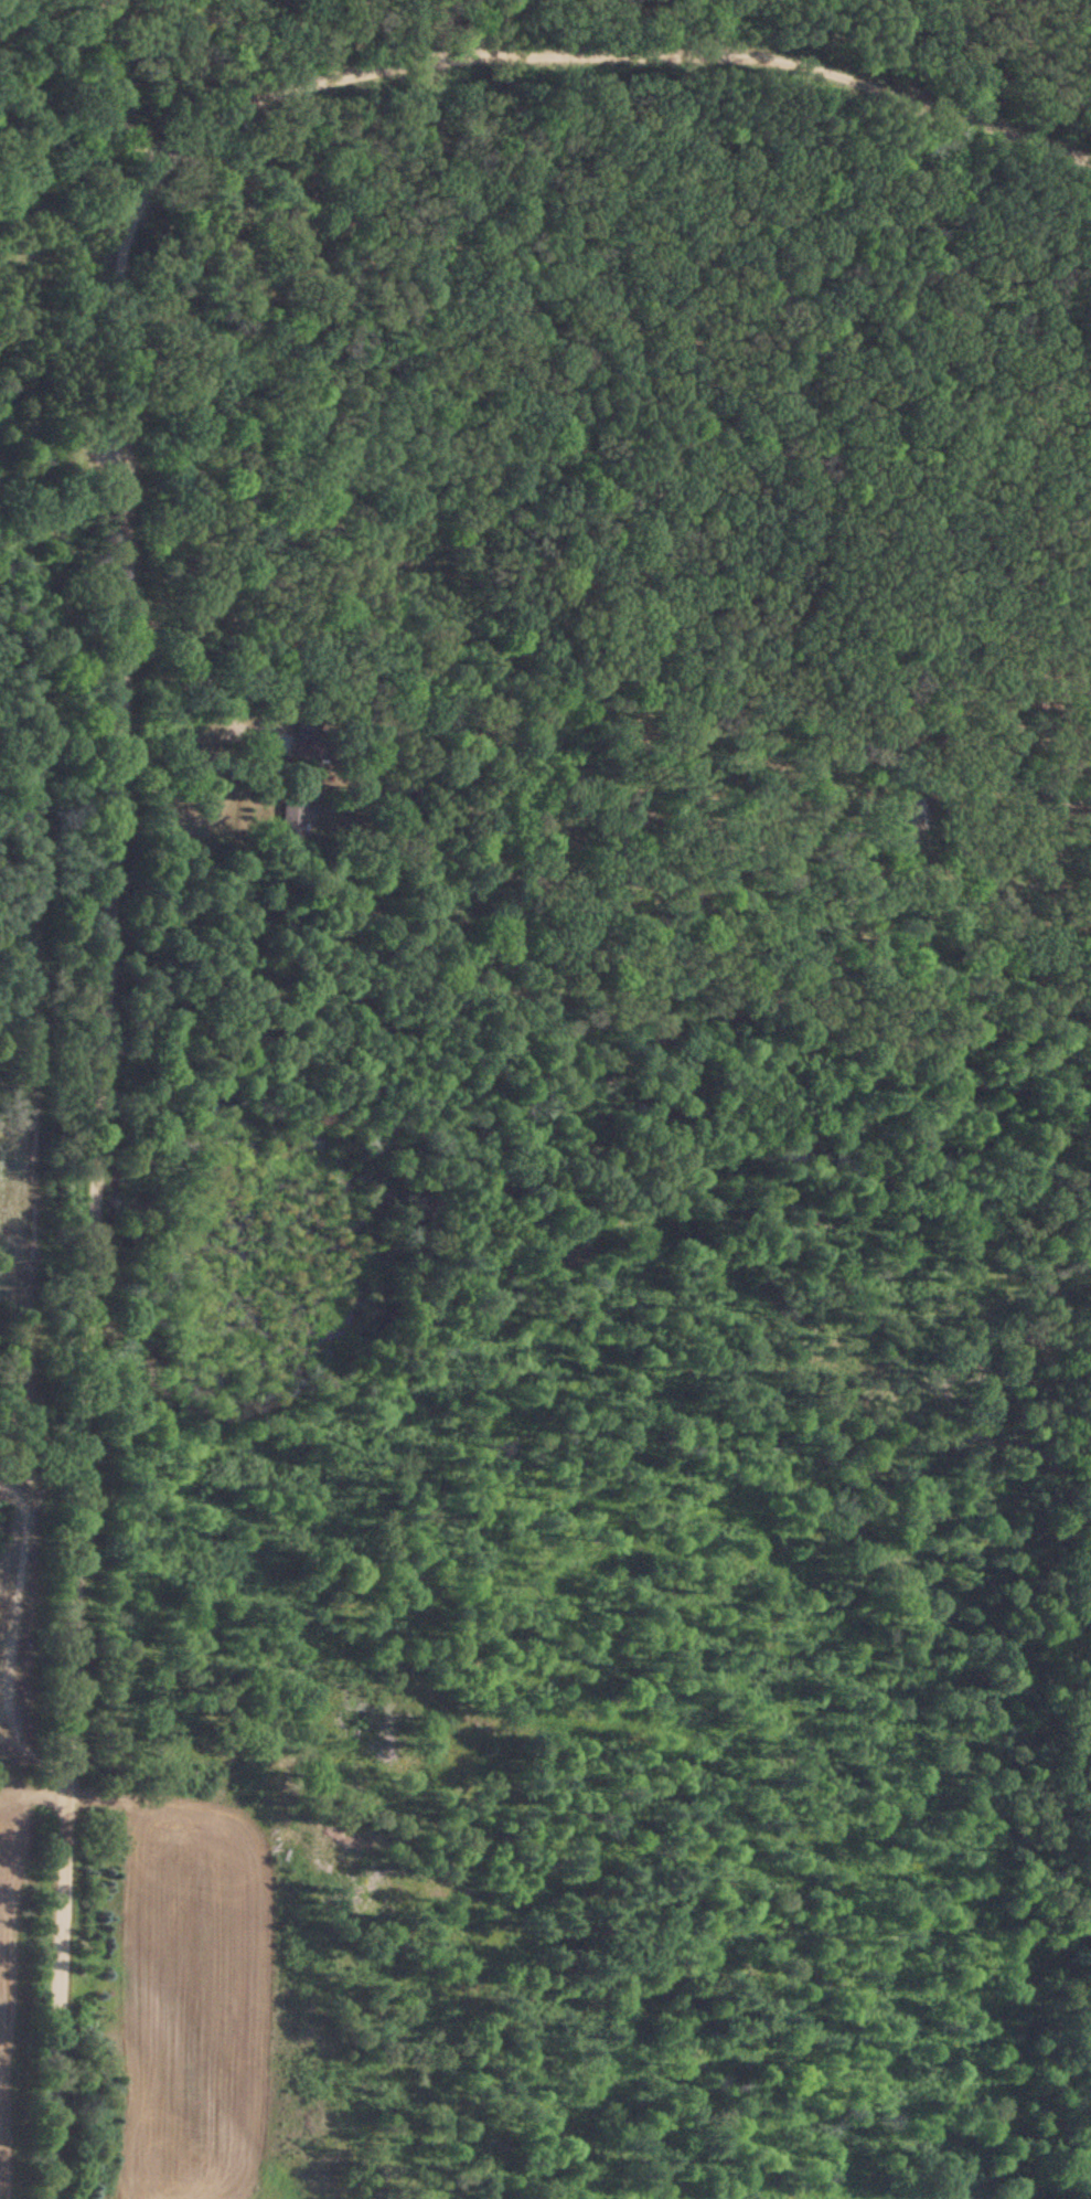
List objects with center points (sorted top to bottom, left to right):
road: (618, 42)
road: (85, 1171)

